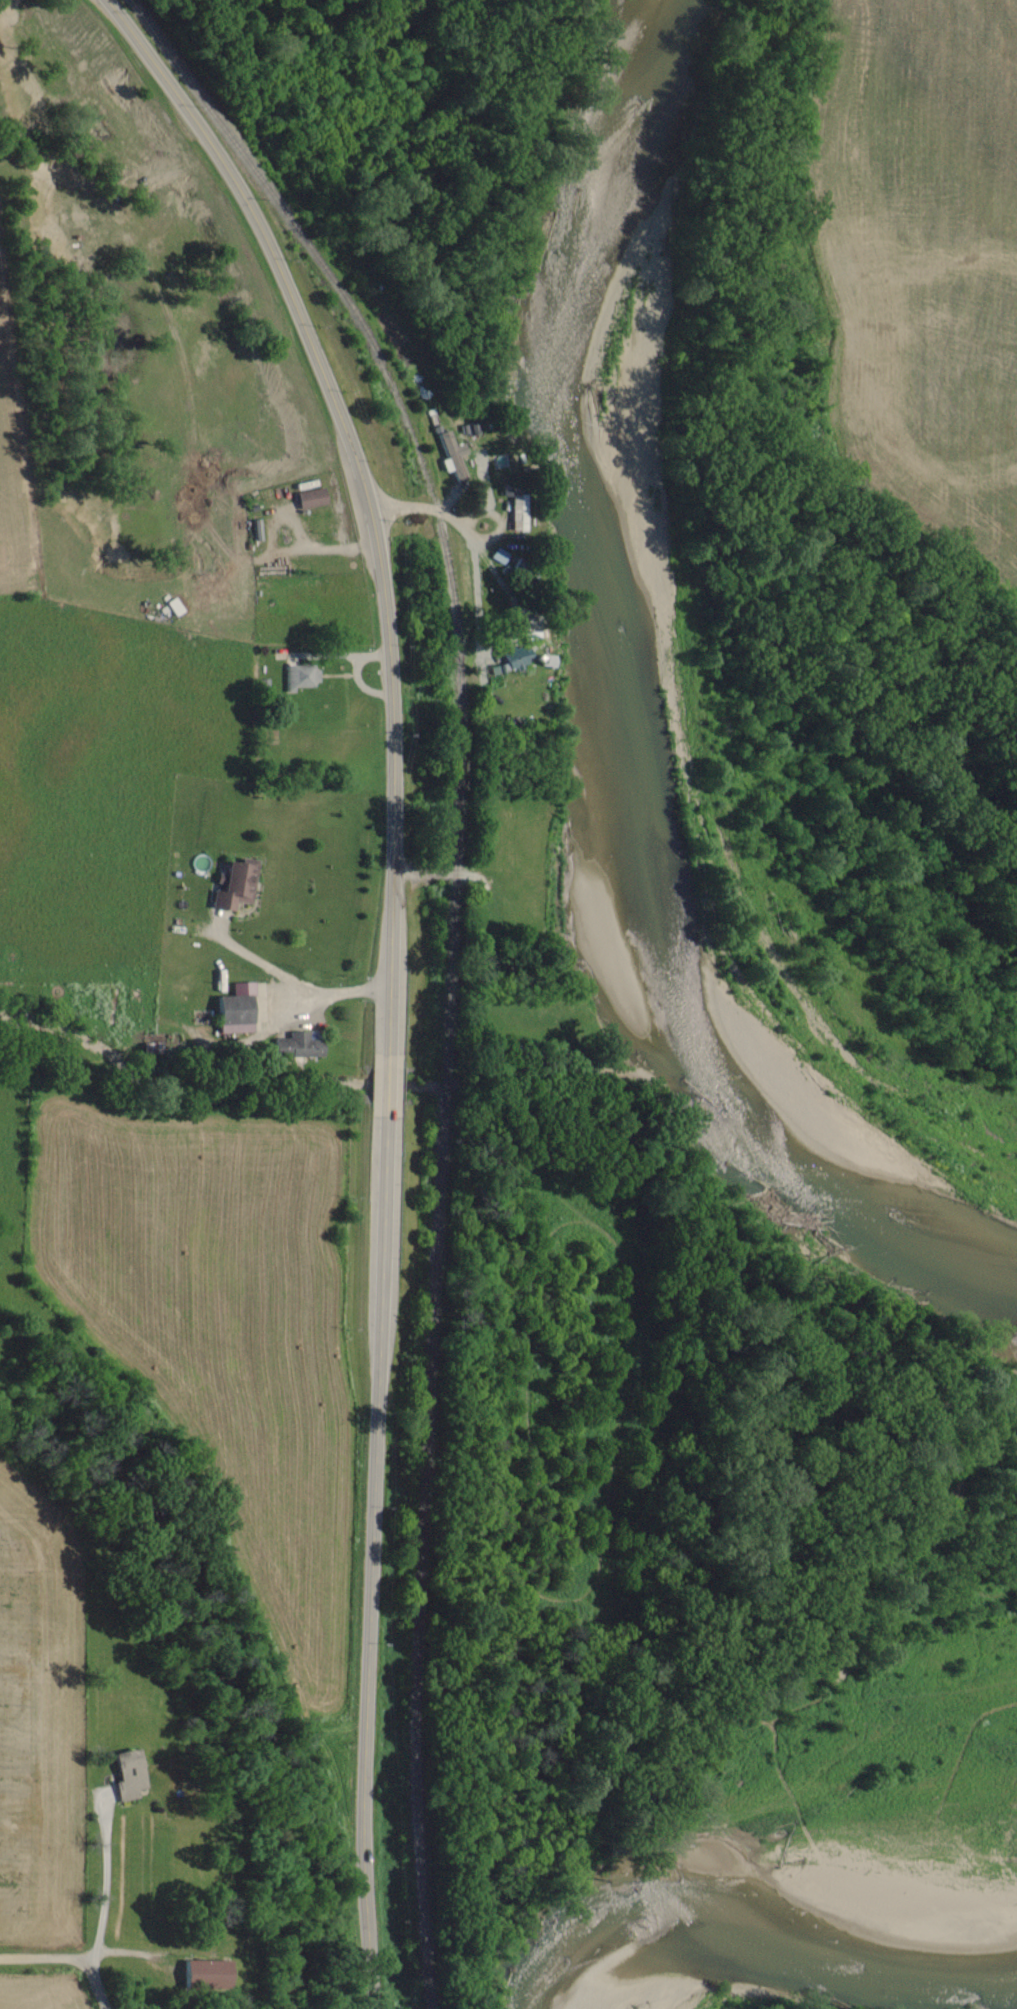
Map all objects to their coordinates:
building: (451, 457)
road: (363, 493)
building: (309, 499)
building: (514, 514)
building: (513, 661)
building: (539, 661)
building: (299, 679)
river: (636, 694)
building: (232, 886)
railway: (450, 958)
road: (293, 978)
building: (234, 1011)
road: (385, 1084)
road: (369, 1562)
building: (125, 1776)
river: (795, 1821)
road: (105, 1885)
road: (65, 1960)
building: (201, 1975)

